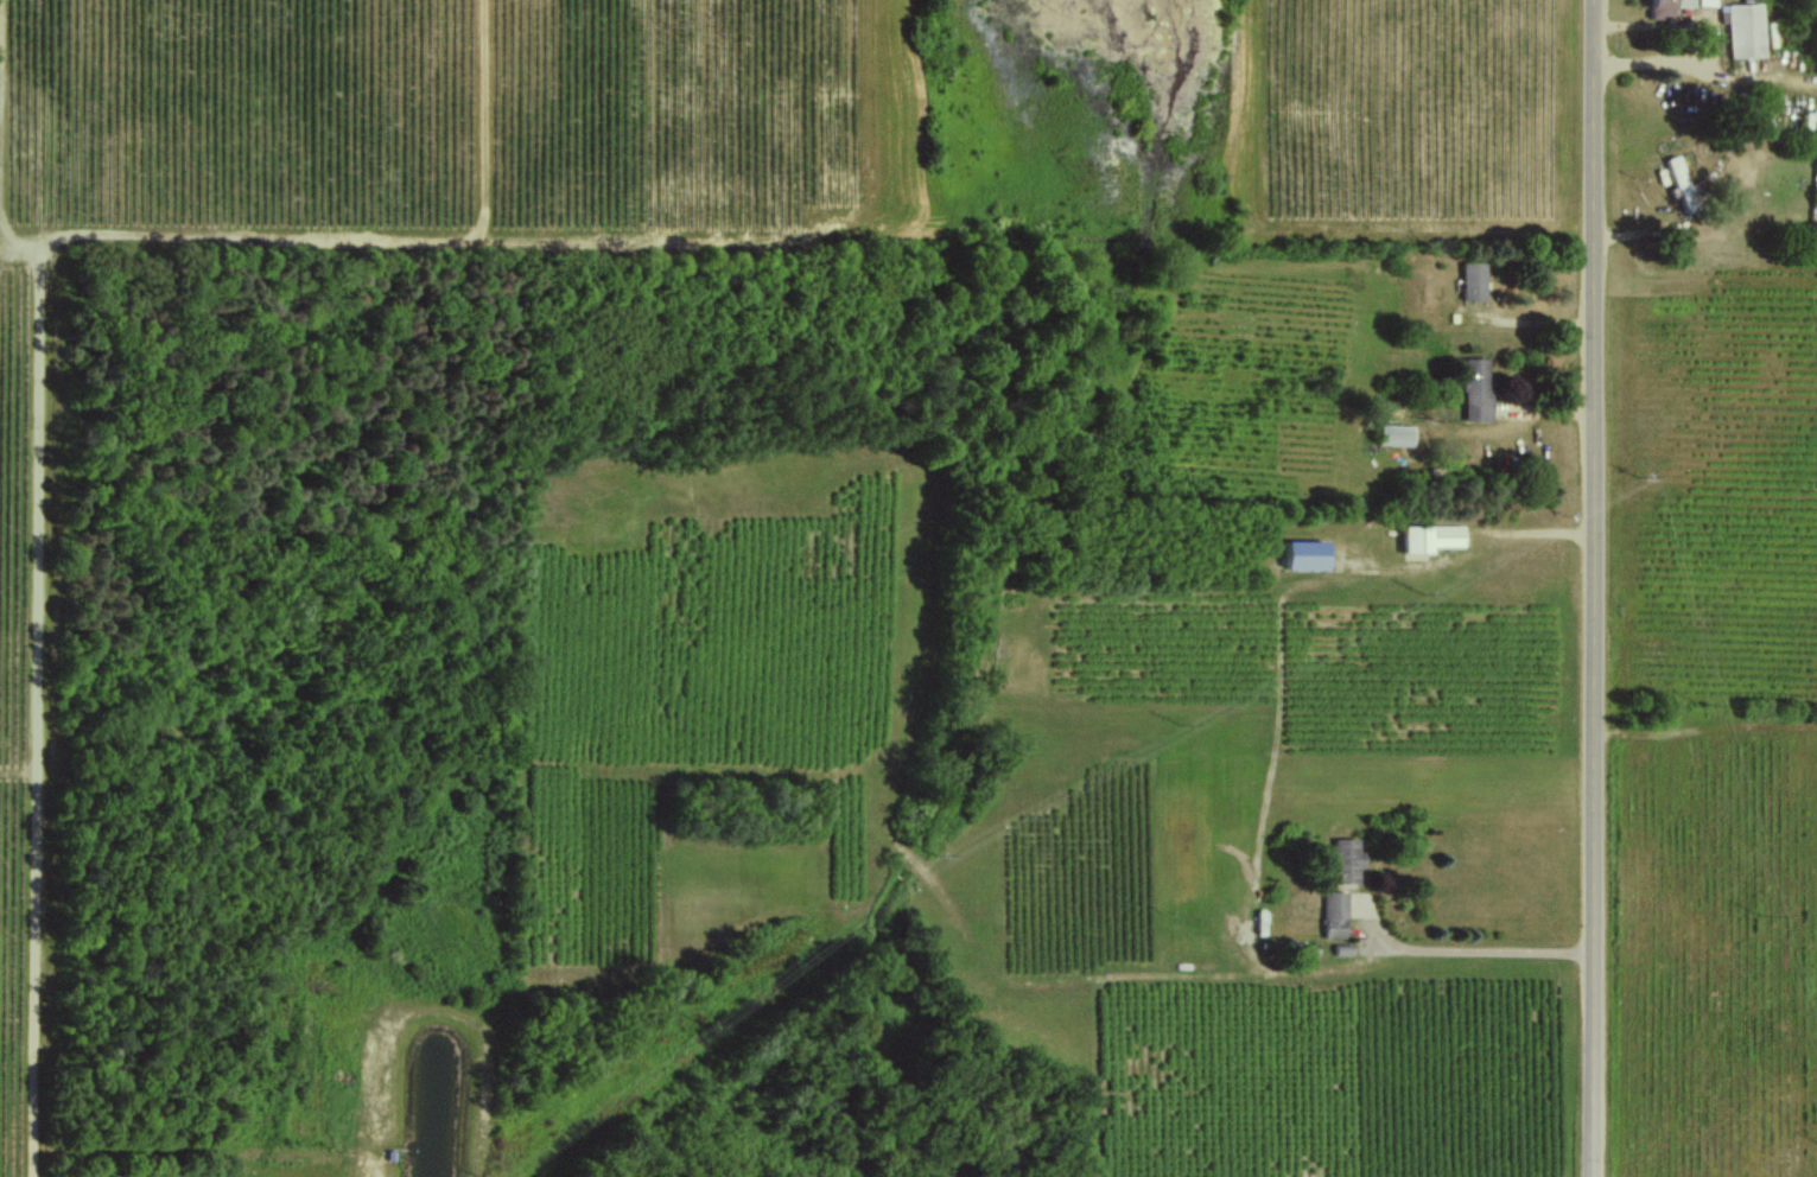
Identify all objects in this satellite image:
building: (1703, 2)
building: (1664, 7)
building: (1741, 28)
road: (1705, 32)
building: (1683, 183)
building: (1474, 281)
building: (1476, 388)
building: (1396, 434)
building: (1431, 536)
building: (1309, 554)
road: (1595, 587)
building: (1347, 859)
building: (1334, 915)
road: (1478, 948)

